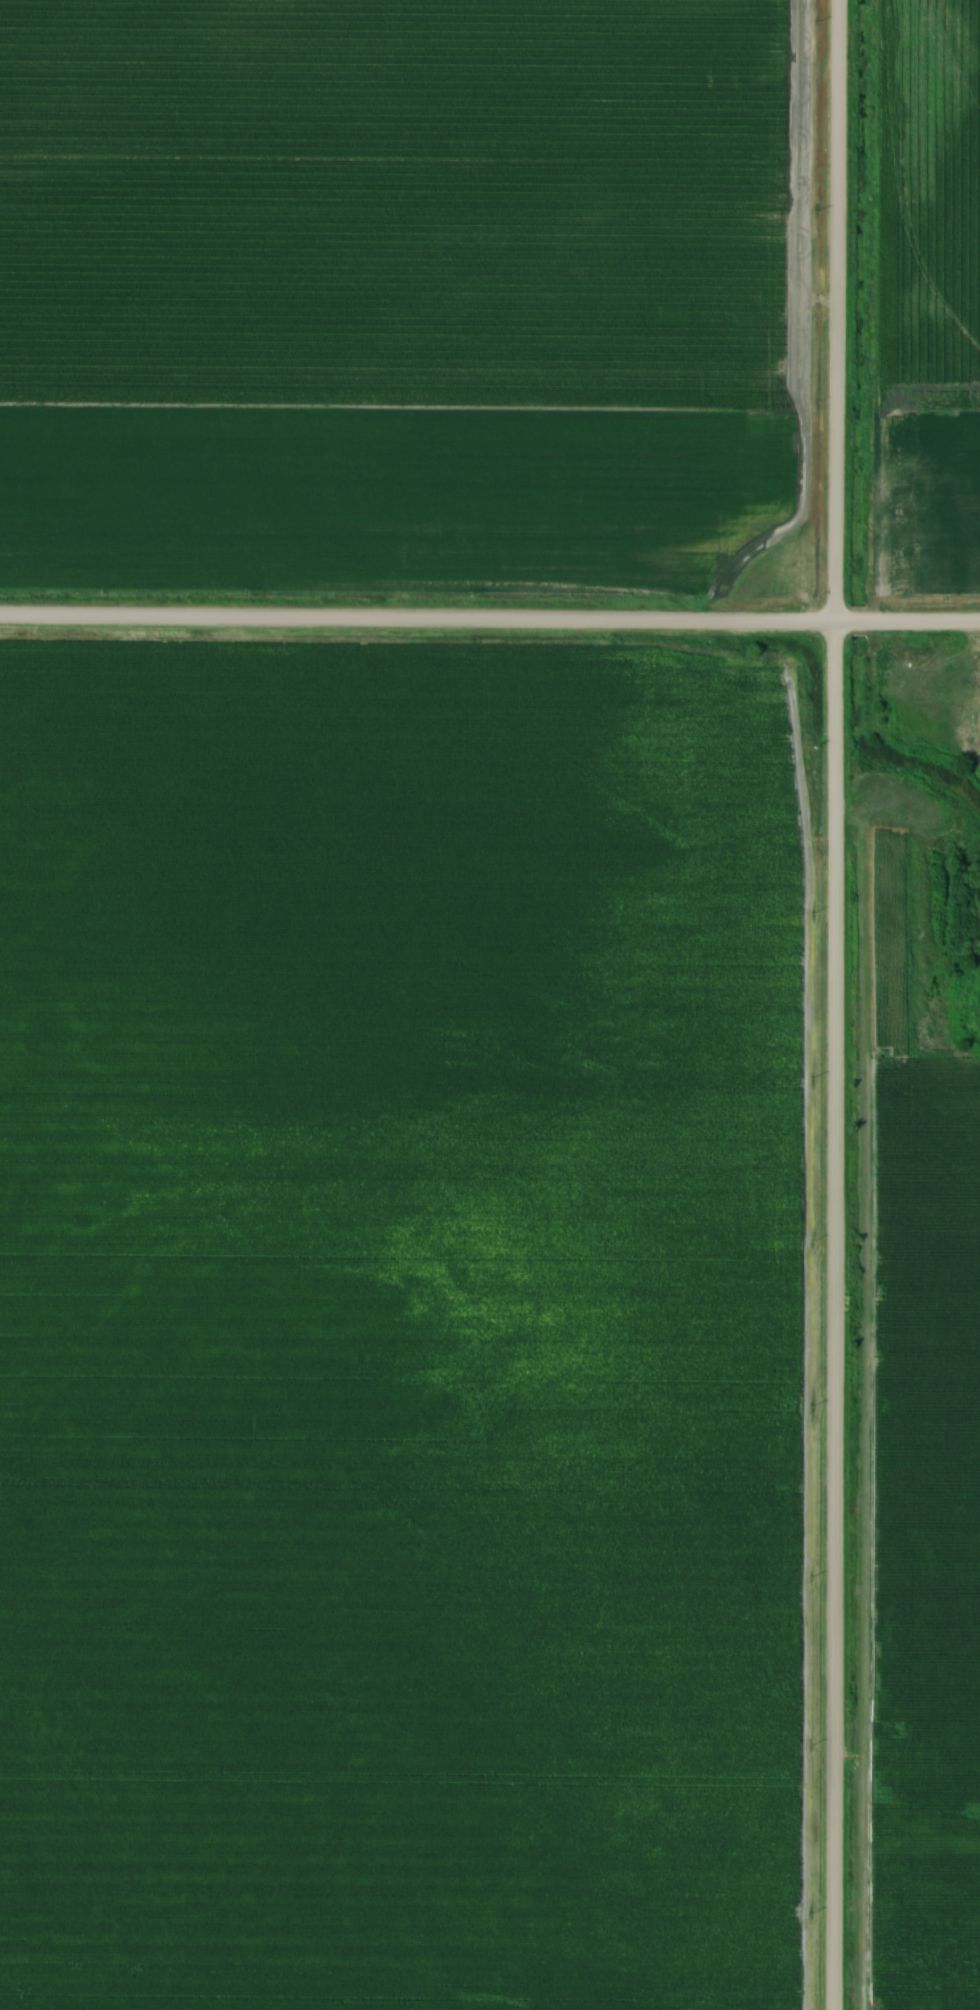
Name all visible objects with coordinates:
road: (490, 624)
road: (836, 1004)

